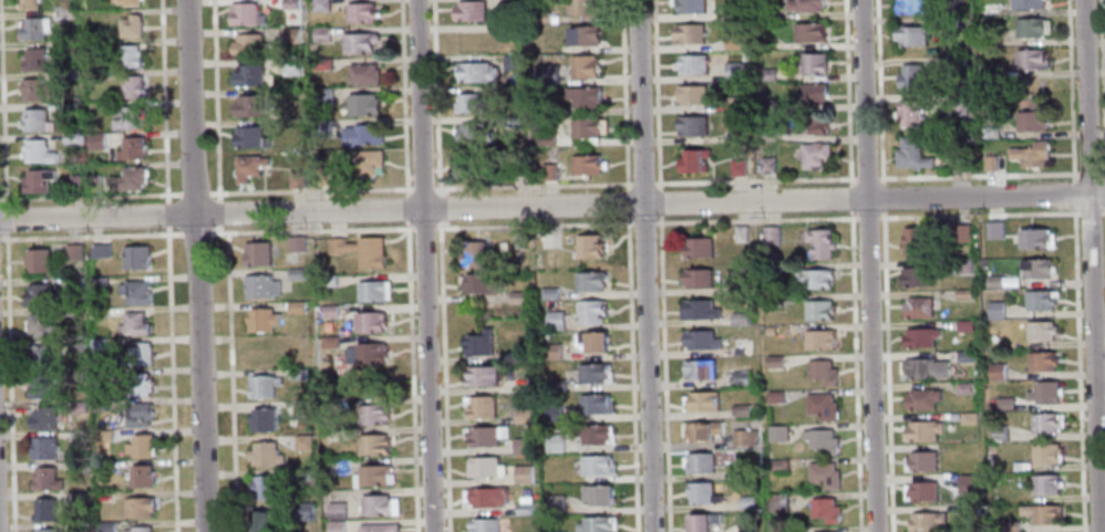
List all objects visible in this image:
building: (127, 2)
building: (509, 2)
building: (28, 4)
building: (290, 4)
building: (807, 4)
building: (1026, 4)
building: (320, 6)
building: (692, 6)
building: (581, 7)
building: (910, 7)
building: (468, 10)
building: (733, 10)
building: (766, 11)
building: (360, 13)
building: (245, 14)
building: (61, 15)
building: (540, 17)
building: (954, 22)
building: (130, 27)
building: (1029, 27)
building: (32, 29)
building: (510, 29)
building: (813, 32)
building: (690, 33)
building: (321, 34)
building: (584, 34)
building: (290, 35)
building: (910, 35)
building: (987, 40)
building: (735, 42)
building: (359, 43)
building: (768, 44)
building: (93, 45)
building: (248, 45)
building: (69, 48)
building: (126, 55)
building: (747, 55)
building: (32, 59)
building: (1030, 59)
building: (512, 62)
building: (815, 62)
building: (693, 64)
building: (956, 64)
building: (321, 65)
building: (584, 65)
building: (290, 67)
building: (734, 70)
building: (475, 71)
building: (989, 71)
building: (546, 74)
building: (768, 74)
building: (363, 75)
building: (65, 76)
building: (249, 76)
building: (93, 77)
building: (912, 77)
building: (132, 86)
road: (1071, 87)
road: (1103, 87)
building: (32, 90)
road: (847, 91)
road: (878, 91)
building: (510, 92)
building: (815, 93)
road: (435, 94)
building: (691, 94)
building: (584, 95)
road: (657, 95)
building: (324, 96)
road: (624, 96)
road: (401, 97)
road: (214, 100)
road: (162, 101)
building: (473, 102)
building: (737, 103)
building: (770, 103)
building: (363, 104)
building: (248, 106)
building: (957, 106)
building: (70, 108)
building: (910, 113)
building: (1032, 117)
building: (92, 118)
building: (127, 118)
building: (35, 121)
building: (513, 122)
building: (817, 124)
road: (2, 125)
building: (693, 125)
building: (321, 129)
building: (585, 131)
building: (768, 132)
building: (989, 132)
building: (473, 133)
building: (737, 133)
building: (362, 135)
building: (249, 137)
building: (70, 138)
building: (545, 138)
building: (95, 140)
building: (131, 148)
building: (35, 152)
building: (910, 153)
building: (1030, 154)
building: (817, 155)
building: (695, 159)
building: (369, 163)
building: (463, 163)
building: (586, 164)
building: (961, 164)
building: (989, 164)
building: (248, 166)
building: (740, 166)
building: (770, 166)
building: (548, 171)
road: (1089, 173)
road: (1104, 173)
road: (980, 174)
building: (324, 176)
road: (879, 176)
road: (866, 177)
building: (130, 178)
building: (295, 179)
road: (754, 179)
building: (35, 181)
building: (93, 181)
road: (642, 181)
building: (73, 182)
road: (531, 185)
road: (422, 189)
road: (309, 190)
road: (1074, 191)
road: (194, 192)
road: (443, 192)
road: (90, 196)
road: (882, 196)
road: (850, 197)
road: (627, 204)
road: (659, 204)
road: (551, 205)
road: (405, 208)
road: (444, 208)
road: (1091, 212)
road: (1104, 212)
road: (165, 213)
road: (217, 213)
road: (981, 213)
road: (870, 217)
road: (627, 219)
road: (4, 220)
road: (755, 220)
road: (643, 222)
road: (444, 223)
road: (533, 226)
road: (421, 228)
road: (217, 229)
road: (309, 230)
building: (993, 230)
road: (194, 233)
building: (743, 233)
building: (772, 233)
road: (90, 236)
building: (1033, 238)
building: (518, 239)
building: (823, 242)
building: (915, 242)
building: (296, 244)
building: (589, 246)
building: (701, 248)
building: (99, 250)
building: (360, 250)
building: (73, 252)
building: (474, 252)
building: (256, 253)
building: (135, 257)
building: (40, 260)
road: (196, 265)
road: (423, 265)
road: (646, 265)
road: (867, 265)
road: (1092, 265)
building: (962, 267)
building: (1035, 268)
building: (297, 273)
building: (916, 275)
building: (699, 278)
building: (817, 278)
building: (329, 280)
building: (589, 280)
building: (992, 281)
building: (74, 282)
building: (97, 283)
building: (481, 284)
building: (260, 286)
building: (134, 291)
building: (373, 291)
building: (549, 293)
building: (962, 293)
building: (35, 295)
building: (517, 296)
building: (1039, 300)
building: (296, 306)
building: (917, 306)
building: (702, 309)
building: (820, 310)
building: (994, 310)
building: (329, 311)
building: (72, 312)
building: (96, 312)
building: (590, 312)
building: (742, 319)
building: (261, 320)
building: (554, 320)
building: (368, 322)
building: (134, 323)
building: (40, 325)
building: (963, 325)
building: (1040, 330)
building: (772, 333)
building: (920, 336)
building: (822, 338)
building: (298, 340)
building: (703, 340)
building: (596, 341)
building: (330, 342)
building: (478, 343)
building: (74, 344)
building: (97, 344)
building: (744, 346)
building: (260, 351)
building: (548, 352)
building: (363, 353)
building: (519, 354)
building: (137, 355)
building: (42, 356)
building: (964, 356)
building: (777, 361)
building: (1041, 361)
building: (701, 368)
road: (888, 369)
building: (922, 369)
road: (1080, 369)
road: (856, 371)
building: (995, 371)
building: (824, 372)
building: (298, 374)
building: (593, 374)
road: (663, 374)
building: (76, 375)
road: (410, 376)
building: (481, 377)
road: (630, 377)
building: (743, 377)
road: (169, 379)
road: (442, 379)
road: (8, 382)
road: (230, 382)
building: (137, 384)
building: (519, 384)
building: (262, 386)
building: (556, 386)
building: (40, 387)
building: (1044, 393)
building: (777, 396)
building: (921, 398)
building: (703, 400)
building: (1003, 403)
building: (595, 404)
building: (75, 406)
building: (332, 406)
building: (479, 406)
building: (824, 406)
building: (301, 409)
building: (743, 409)
building: (137, 414)
building: (371, 414)
building: (552, 414)
building: (520, 415)
building: (42, 418)
building: (968, 418)
building: (262, 419)
building: (1044, 421)
building: (703, 430)
building: (921, 431)
building: (781, 432)
building: (998, 432)
building: (592, 435)
building: (102, 436)
building: (483, 436)
building: (79, 437)
building: (747, 437)
building: (824, 440)
building: (552, 441)
building: (302, 442)
building: (373, 445)
building: (140, 446)
building: (520, 446)
building: (42, 448)
building: (1045, 452)
building: (264, 453)
building: (323, 453)
building: (747, 457)
building: (920, 461)
building: (701, 462)
building: (596, 466)
building: (781, 466)
building: (79, 467)
building: (104, 467)
building: (484, 467)
building: (302, 474)
building: (521, 474)
building: (827, 474)
building: (137, 476)
building: (374, 476)
building: (43, 478)
building: (1044, 483)
building: (970, 484)
building: (262, 487)
building: (922, 491)
building: (705, 493)
building: (597, 494)
building: (484, 497)
building: (79, 498)
building: (748, 501)
building: (779, 502)
building: (554, 503)
building: (378, 505)
building: (137, 507)
building: (43, 509)
building: (523, 509)
building: (827, 509)
building: (335, 510)
building: (302, 511)
building: (971, 511)
building: (1042, 513)
building: (260, 521)
building: (925, 521)
building: (704, 522)
building: (483, 524)
building: (596, 524)
building: (106, 526)
building: (335, 526)
building: (1010, 526)
building: (81, 528)
building: (378, 528)
building: (137, 529)
building: (45, 530)
building: (828, 531)

